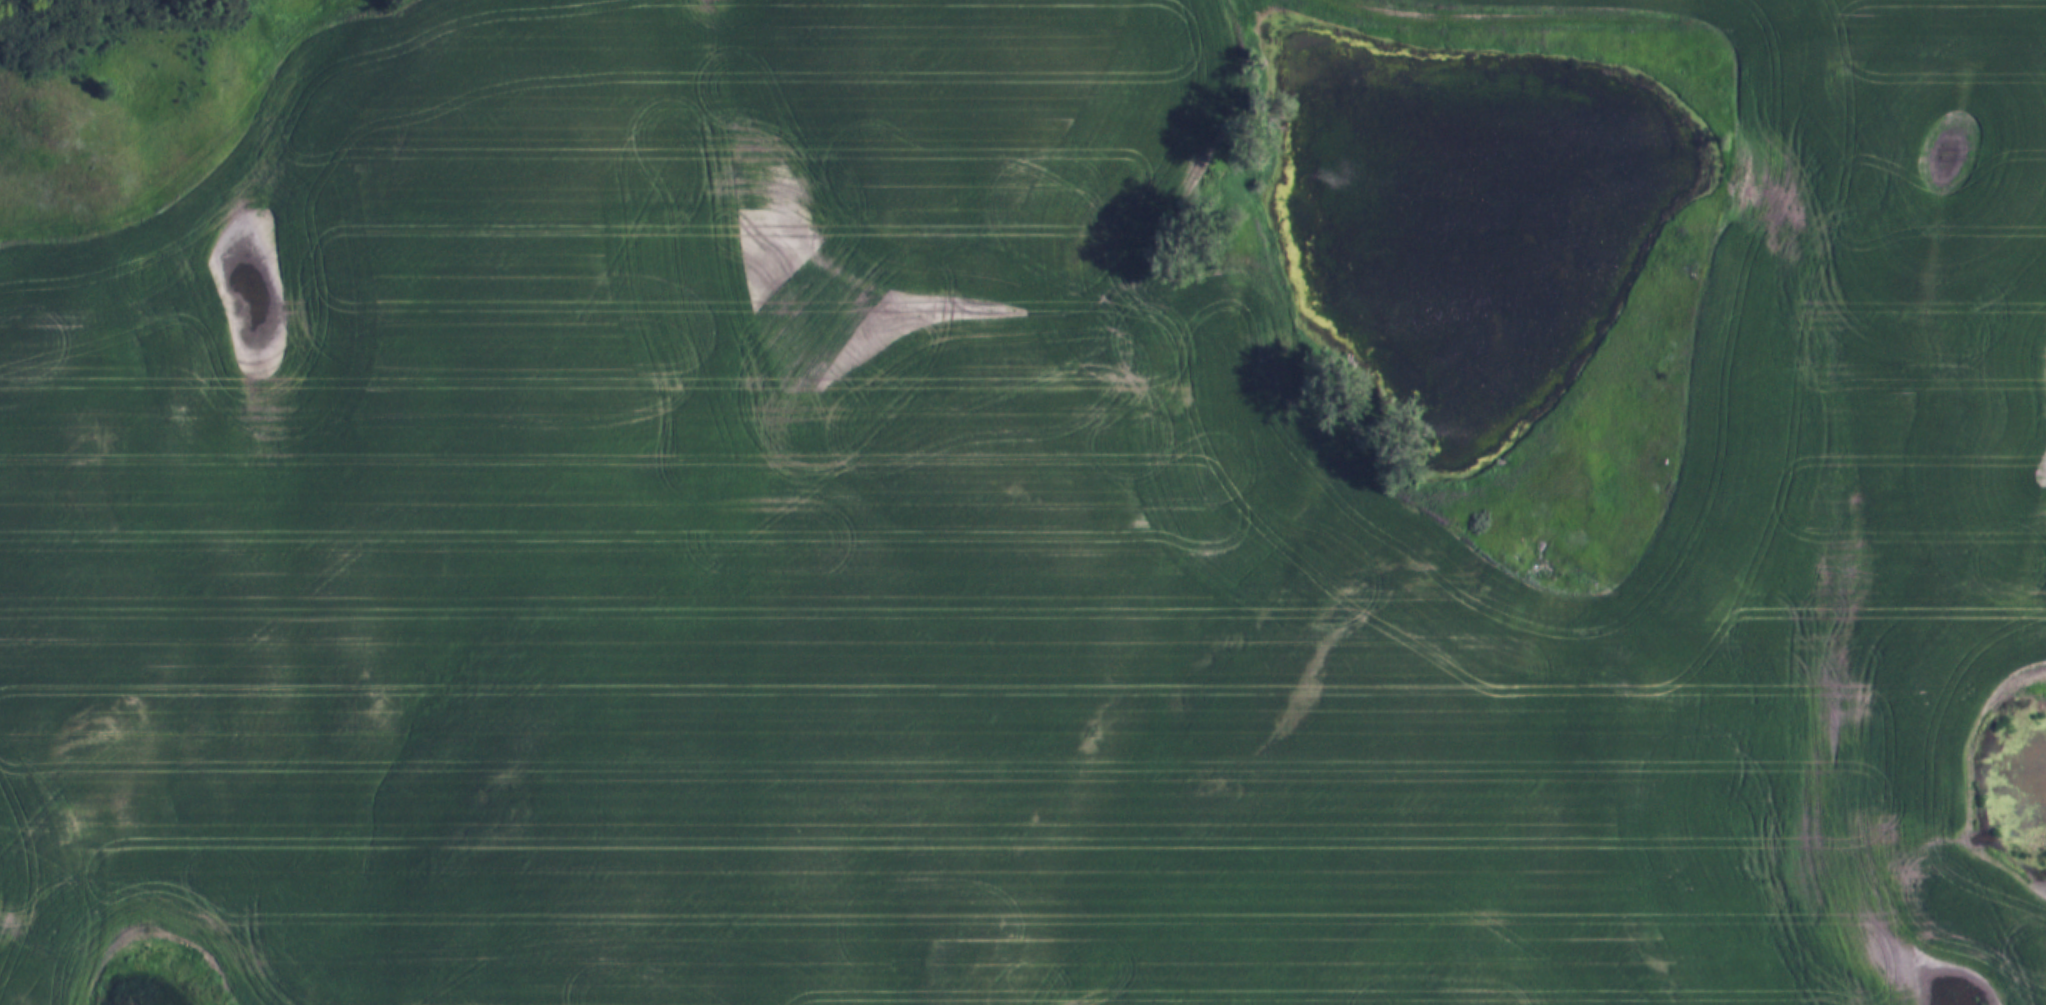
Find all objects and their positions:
road: (1683, 19)
road: (213, 179)

